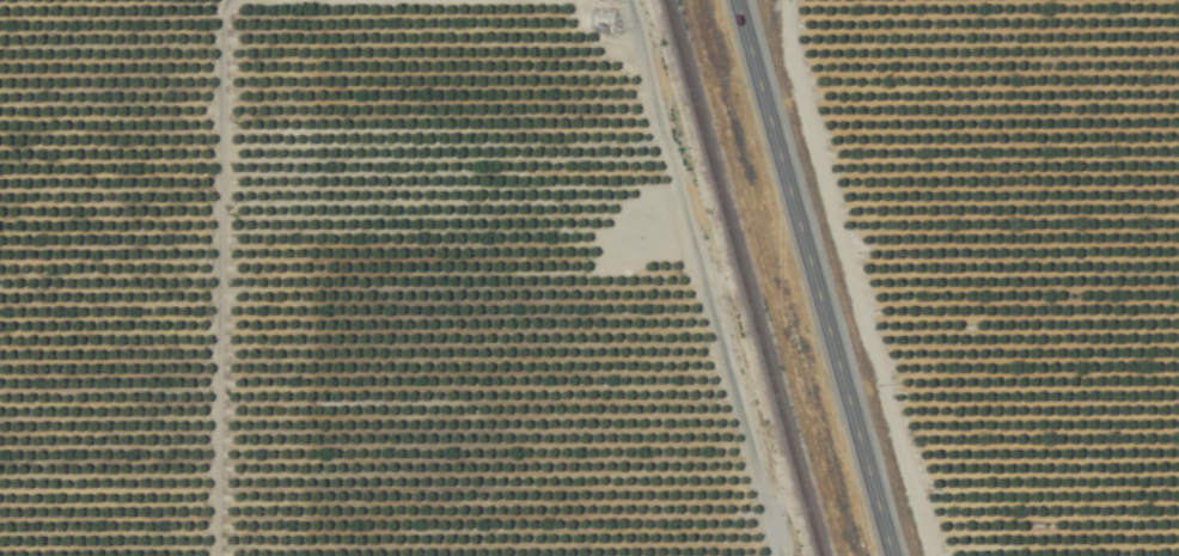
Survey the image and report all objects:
road: (209, 274)
crop: (589, 277)
railway: (738, 277)
road: (807, 277)

